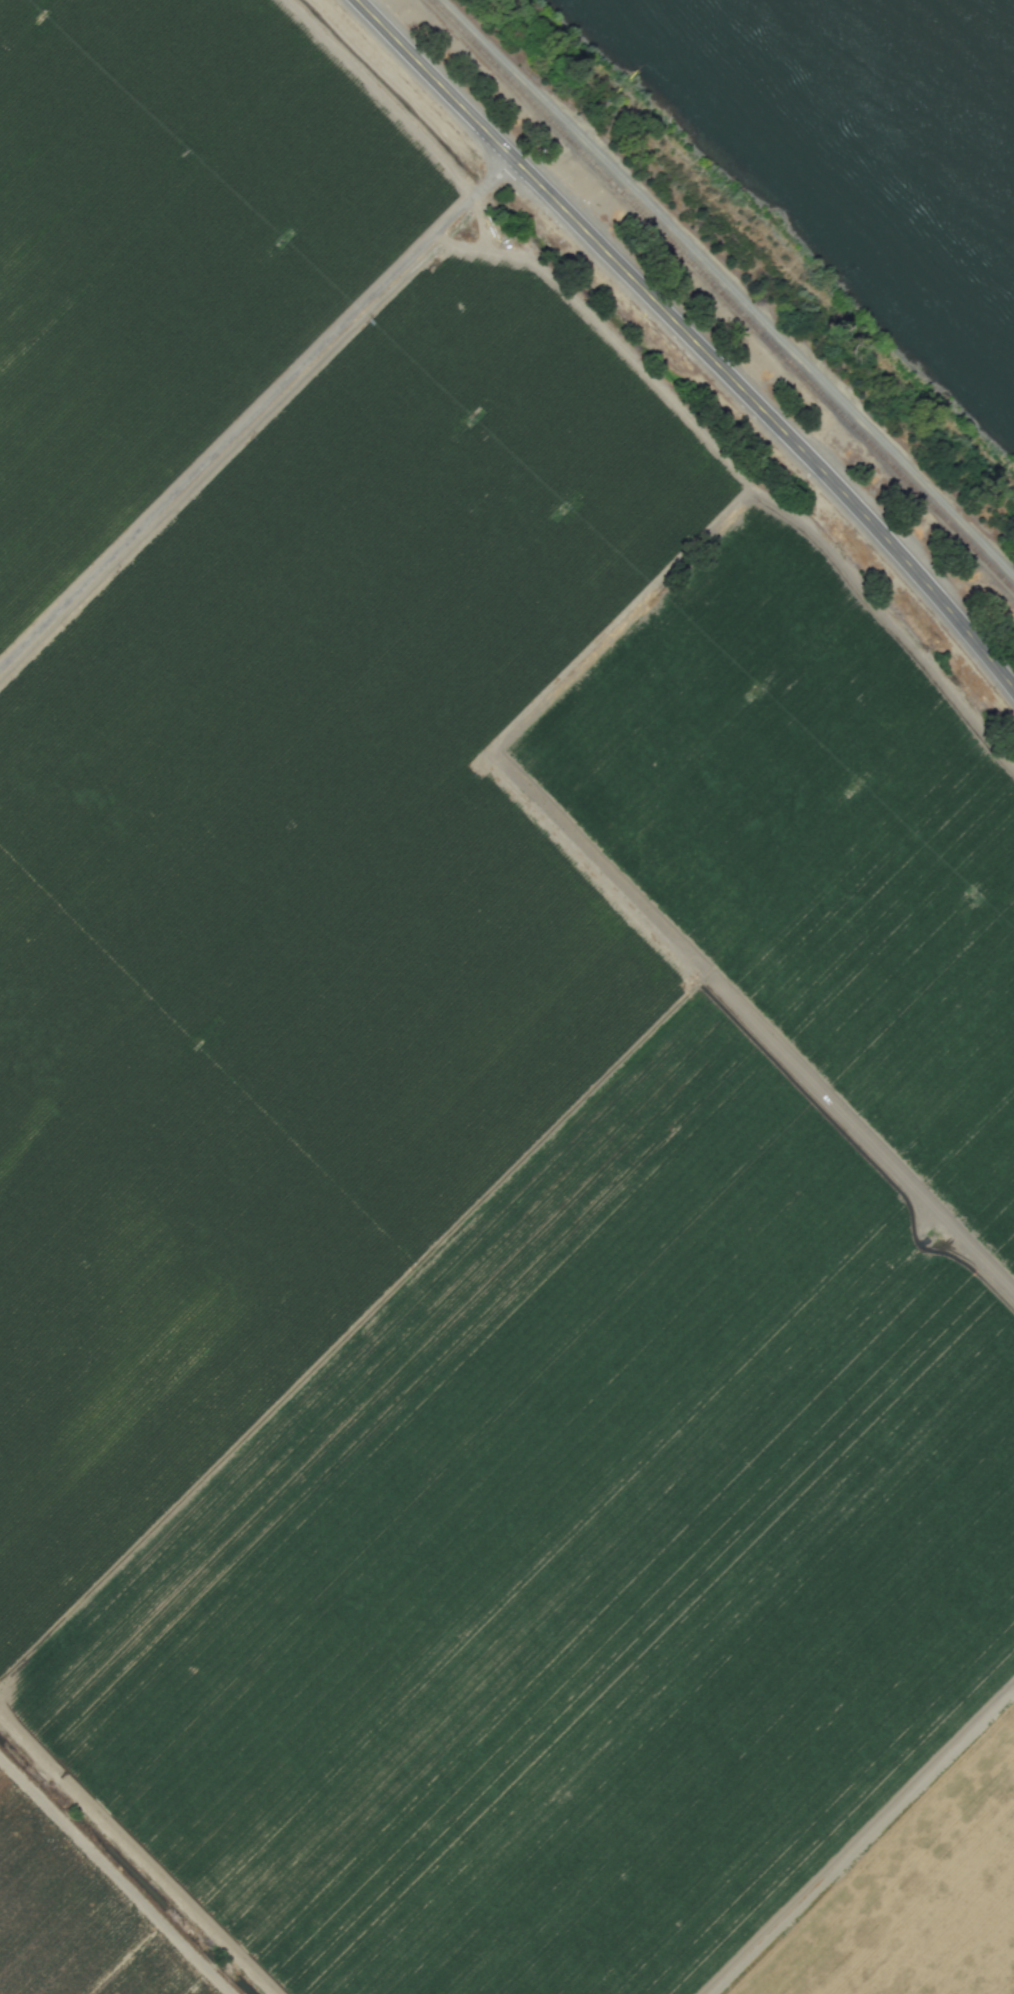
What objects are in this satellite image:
river: (906, 97)
railway: (723, 294)
road: (690, 338)
road: (255, 417)
crop: (469, 1091)
road: (865, 1842)
road: (113, 1873)

